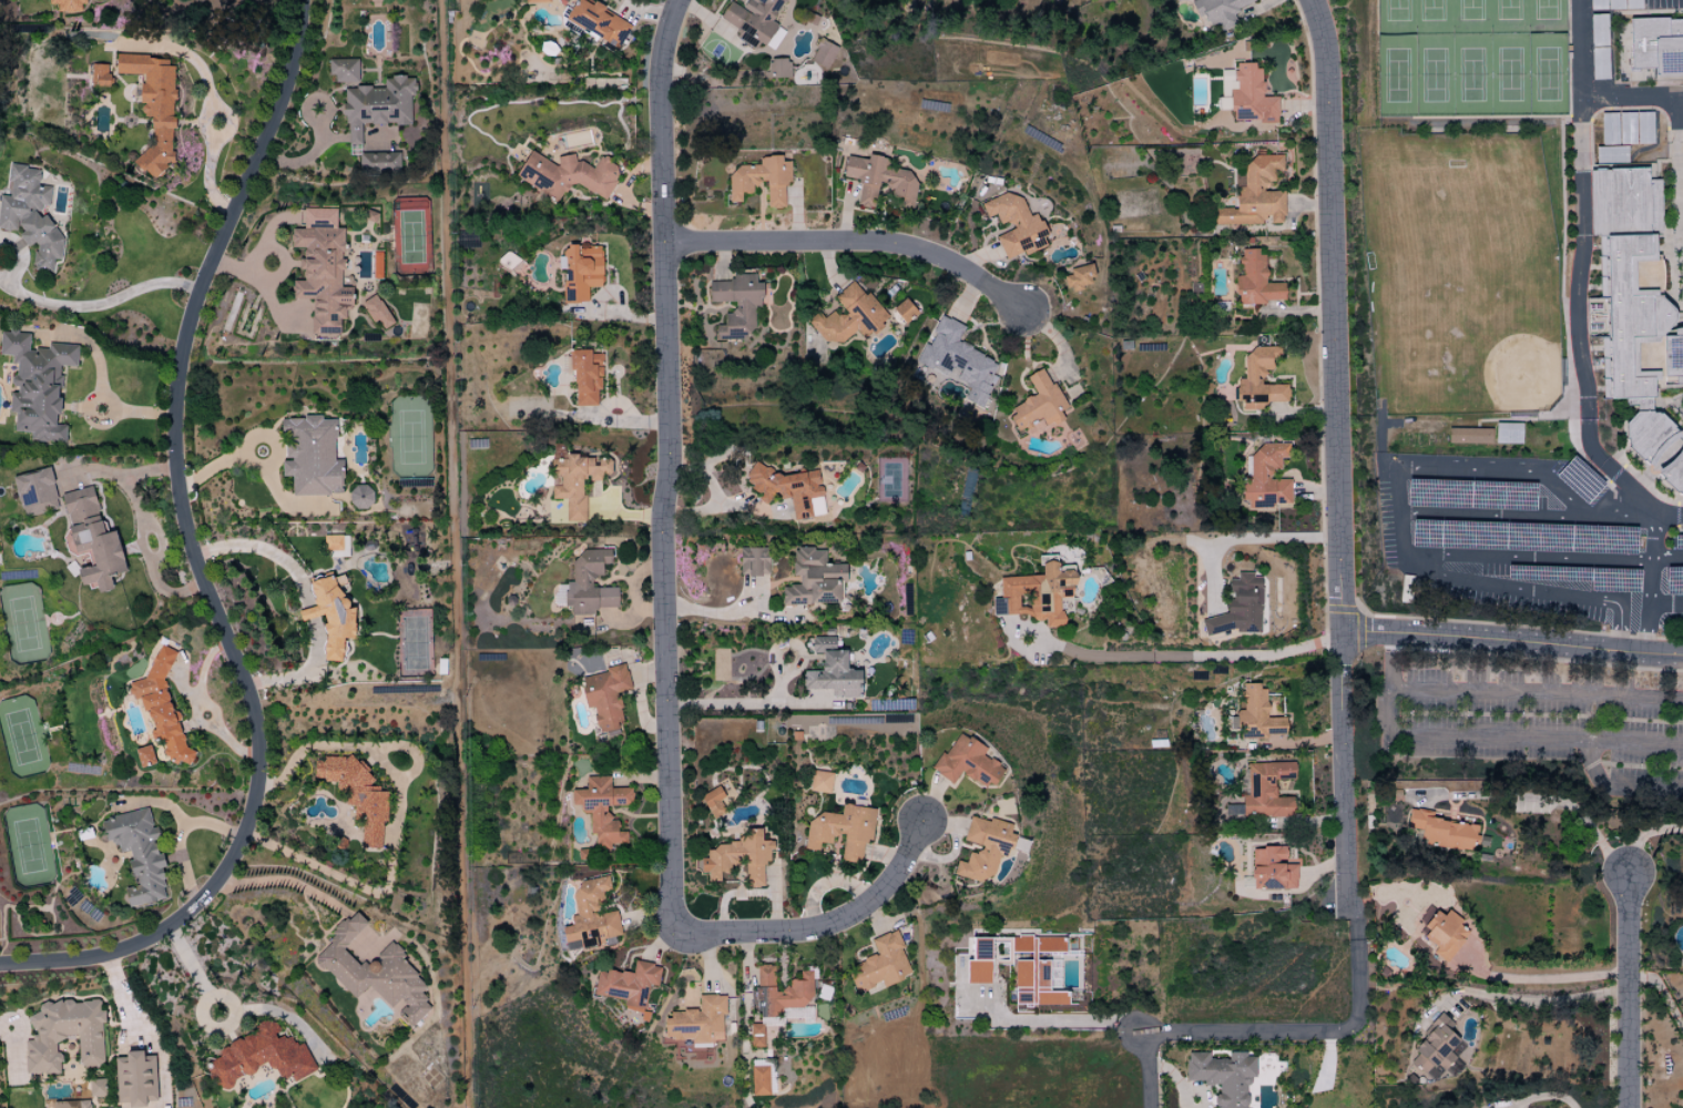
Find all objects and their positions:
building: (537, 1)
building: (1597, 4)
building: (69, 6)
building: (1217, 11)
building: (596, 21)
building: (755, 22)
building: (1597, 28)
building: (1656, 47)
building: (823, 53)
park: (1471, 58)
building: (777, 68)
building: (344, 70)
building: (99, 75)
building: (1245, 94)
road: (1631, 94)
building: (377, 105)
building: (153, 106)
building: (1625, 129)
building: (379, 163)
road: (207, 175)
building: (567, 175)
building: (761, 180)
building: (878, 180)
building: (1255, 195)
building: (30, 214)
building: (1014, 225)
road: (853, 242)
road: (20, 254)
building: (320, 270)
building: (580, 271)
road: (1577, 273)
road: (2, 276)
building: (1078, 278)
building: (1255, 281)
building: (1630, 287)
road: (100, 302)
building: (736, 305)
building: (904, 311)
building: (376, 312)
road: (1333, 315)
building: (849, 316)
building: (957, 362)
building: (585, 377)
building: (1258, 379)
building: (37, 385)
road: (100, 403)
building: (1038, 403)
building: (1508, 433)
building: (1468, 436)
road: (670, 445)
building: (310, 456)
road: (705, 462)
road: (255, 465)
building: (1673, 472)
road: (1457, 474)
building: (1266, 478)
building: (574, 479)
building: (33, 488)
building: (788, 490)
building: (359, 496)
road: (716, 504)
road: (1526, 516)
road: (140, 532)
road: (1251, 538)
building: (91, 539)
building: (331, 542)
road: (1527, 556)
road: (1667, 559)
road: (196, 561)
building: (753, 561)
building: (813, 579)
building: (589, 583)
road: (1500, 583)
road: (1649, 587)
building: (1036, 593)
road: (1665, 606)
building: (1237, 608)
road: (730, 613)
building: (330, 614)
road: (1360, 616)
road: (1620, 622)
road: (1521, 627)
road: (1512, 643)
road: (1184, 652)
road: (1520, 658)
building: (832, 671)
road: (1390, 684)
road: (1537, 692)
building: (604, 697)
road: (205, 703)
road: (746, 704)
building: (161, 708)
building: (1256, 714)
parking lot: (1536, 721)
road: (1537, 740)
road: (1308, 741)
building: (967, 762)
road: (1347, 781)
building: (819, 782)
building: (1265, 790)
building: (356, 795)
building: (713, 801)
road: (1563, 804)
building: (601, 810)
road: (395, 825)
building: (841, 831)
building: (1441, 832)
road: (1641, 836)
building: (983, 847)
building: (137, 854)
building: (738, 857)
building: (1271, 870)
road: (286, 880)
building: (590, 916)
road: (809, 931)
road: (1358, 932)
building: (1441, 932)
building: (979, 963)
building: (880, 964)
building: (1033, 969)
building: (373, 972)
road: (195, 975)
road: (1550, 978)
building: (628, 985)
road: (1631, 992)
building: (778, 993)
road: (1662, 997)
road: (1519, 999)
road: (1071, 1020)
building: (696, 1021)
road: (146, 1028)
road: (1289, 1031)
building: (63, 1035)
building: (755, 1036)
building: (1435, 1048)
building: (259, 1057)
road: (1146, 1069)
building: (1223, 1076)
building: (134, 1079)
road: (1173, 1079)
building: (758, 1080)
building: (95, 1088)
road: (1540, 1097)
building: (71, 1104)
building: (1488, 1107)

